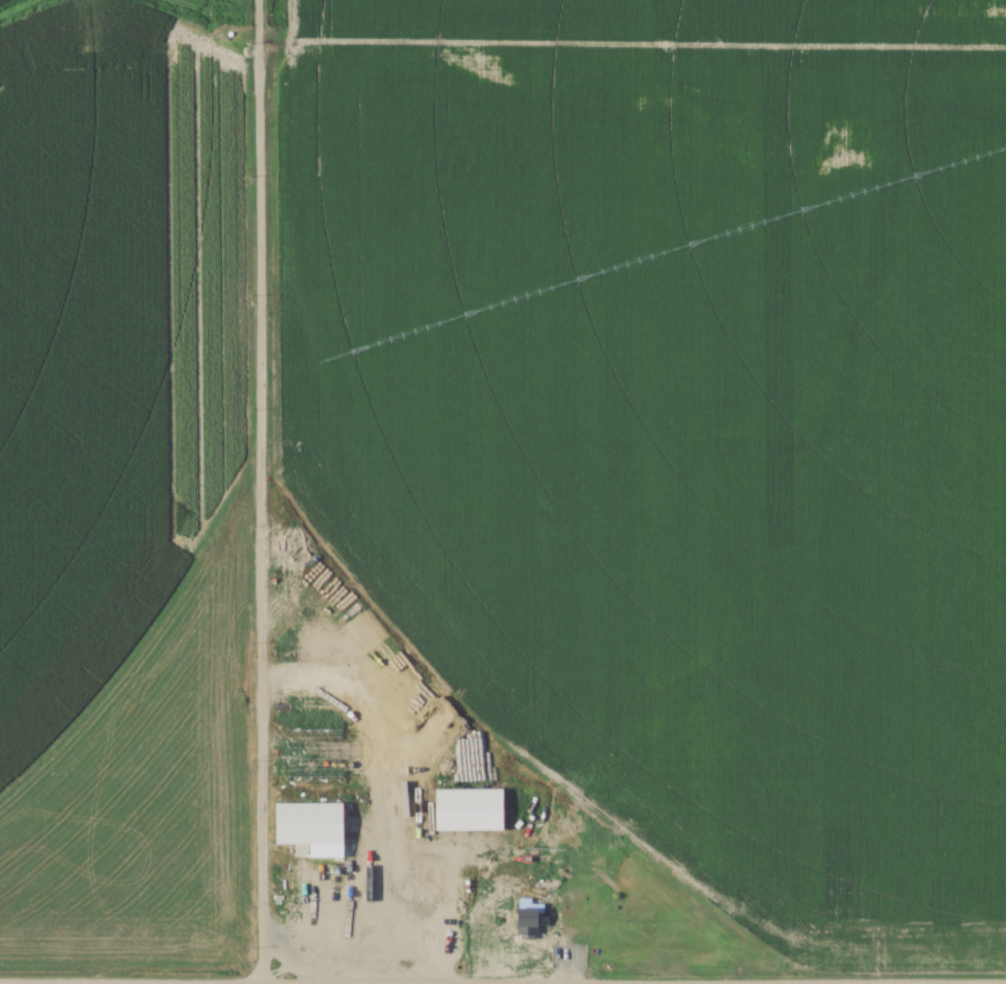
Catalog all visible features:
road: (257, 492)
building: (308, 824)
road: (602, 918)

